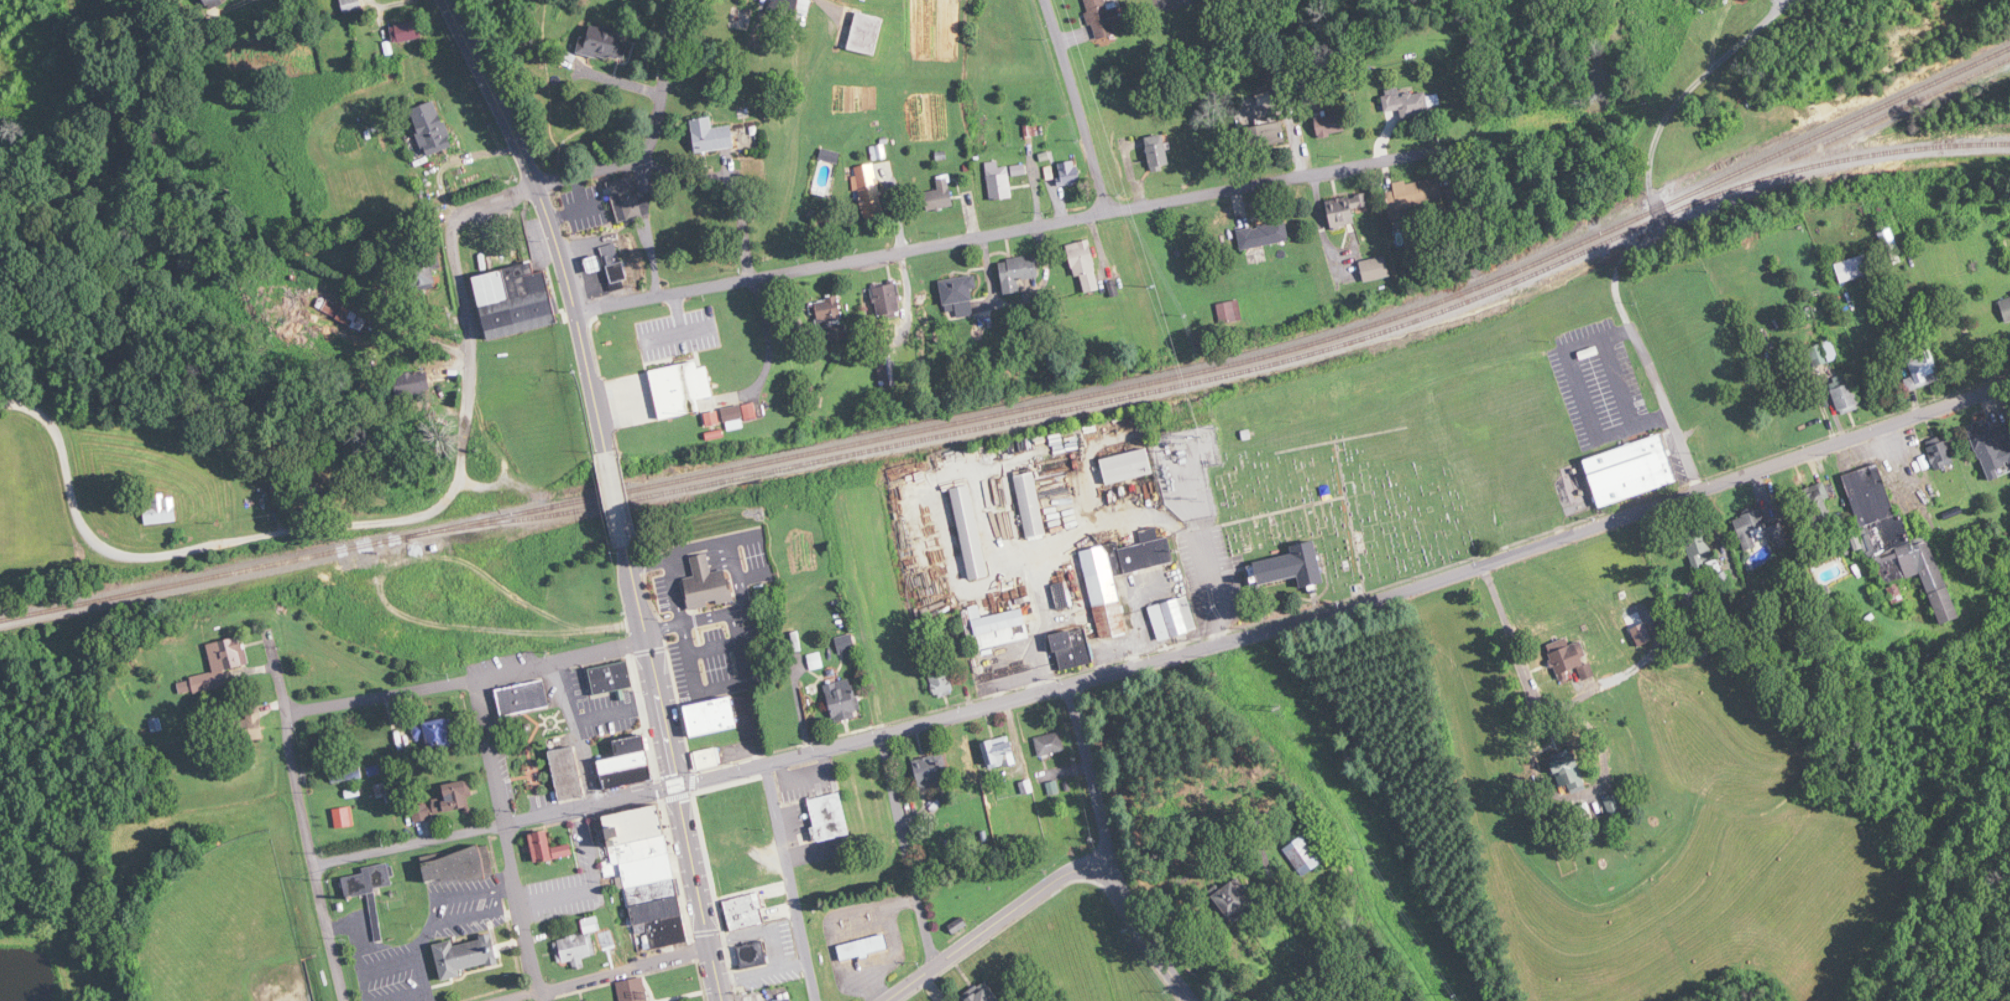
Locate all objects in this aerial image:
building: (213, 2)
building: (352, 6)
building: (790, 9)
building: (1103, 18)
park: (1295, 25)
building: (864, 33)
building: (407, 34)
building: (525, 34)
building: (601, 43)
road: (665, 75)
road: (492, 92)
building: (1408, 102)
road: (1078, 104)
railway: (1899, 109)
building: (1331, 125)
building: (429, 128)
road: (1661, 129)
building: (1267, 135)
building: (710, 136)
building: (1159, 152)
railway: (1879, 152)
road: (593, 169)
building: (1068, 173)
building: (999, 180)
road: (732, 183)
building: (869, 190)
building: (939, 195)
building: (625, 198)
road: (495, 200)
road: (577, 205)
building: (1341, 212)
building: (1402, 224)
road: (1005, 230)
building: (1263, 234)
building: (1891, 246)
building: (1084, 265)
building: (1373, 269)
building: (425, 270)
building: (1015, 273)
building: (615, 275)
building: (957, 296)
building: (514, 300)
building: (2006, 307)
building: (825, 312)
building: (1230, 312)
road: (576, 316)
road: (471, 334)
building: (1824, 353)
building: (1920, 366)
road: (1617, 380)
building: (412, 382)
building: (680, 388)
road: (1662, 394)
building: (1845, 394)
road: (1580, 397)
railway: (1117, 400)
road: (16, 404)
railway: (1028, 407)
building: (1991, 449)
building: (1126, 466)
road: (1904, 467)
building: (1631, 470)
park: (1354, 486)
road: (617, 498)
building: (1818, 504)
building: (1031, 505)
building: (163, 510)
road: (1142, 518)
building: (1753, 528)
building: (970, 532)
building: (1896, 542)
road: (220, 543)
building: (1704, 546)
road: (701, 554)
parking lot: (754, 555)
road: (703, 561)
building: (799, 564)
building: (1289, 566)
road: (694, 569)
building: (707, 582)
road: (638, 592)
parking lot: (662, 592)
road: (680, 601)
building: (1108, 605)
road: (1349, 605)
building: (1174, 617)
road: (707, 619)
building: (1004, 620)
road: (1087, 625)
road: (1241, 626)
road: (737, 633)
road: (867, 640)
building: (845, 645)
road: (715, 648)
building: (1065, 650)
road: (1039, 651)
building: (1578, 658)
parking lot: (717, 661)
building: (221, 665)
road: (277, 669)
building: (611, 676)
road: (468, 679)
building: (941, 680)
road: (638, 688)
building: (520, 696)
building: (842, 700)
building: (129, 704)
parking lot: (599, 706)
building: (712, 715)
building: (247, 727)
road: (578, 731)
building: (440, 734)
building: (1050, 743)
road: (490, 751)
building: (1001, 752)
building: (707, 758)
parking lot: (503, 762)
building: (625, 764)
road: (1536, 764)
building: (346, 770)
building: (933, 770)
building: (567, 771)
building: (1571, 771)
road: (524, 774)
road: (1091, 777)
parking lot: (807, 779)
traffic signals: (677, 785)
building: (455, 796)
parking lot: (544, 797)
road: (538, 799)
road: (660, 799)
building: (1615, 806)
building: (829, 816)
building: (1587, 818)
road: (684, 819)
road: (495, 826)
building: (546, 848)
road: (909, 848)
building: (1302, 855)
road: (311, 858)
road: (706, 860)
building: (459, 866)
building: (646, 875)
road: (592, 880)
road: (791, 882)
building: (373, 887)
building: (1232, 901)
road: (524, 912)
building: (743, 912)
road: (830, 924)
road: (991, 924)
road: (509, 927)
parking lot: (429, 936)
road: (1147, 936)
building: (580, 944)
building: (862, 946)
road: (893, 948)
building: (465, 954)
building: (753, 955)
road: (473, 970)
road: (646, 971)
road: (627, 974)
road: (510, 985)
building: (633, 989)
building: (982, 994)
road: (532, 998)
building: (785, 999)

